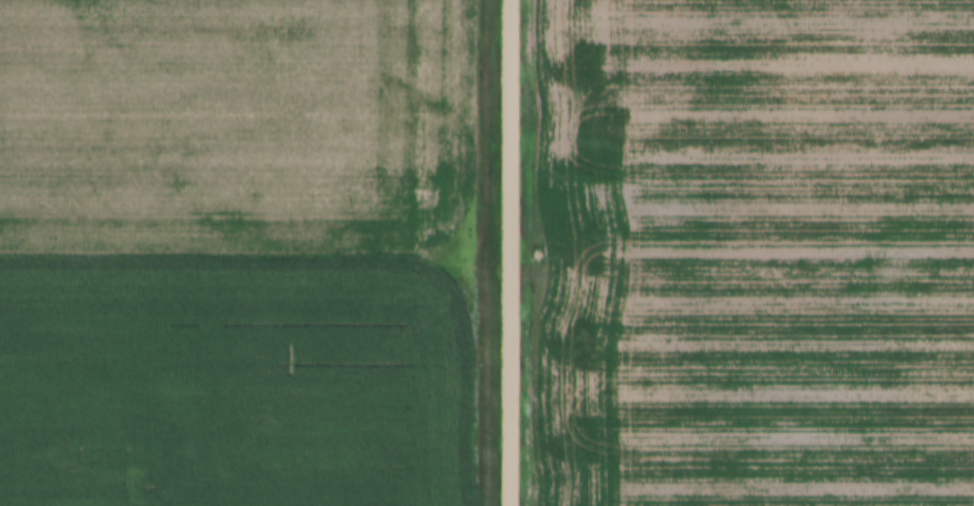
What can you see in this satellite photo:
road: (510, 252)

